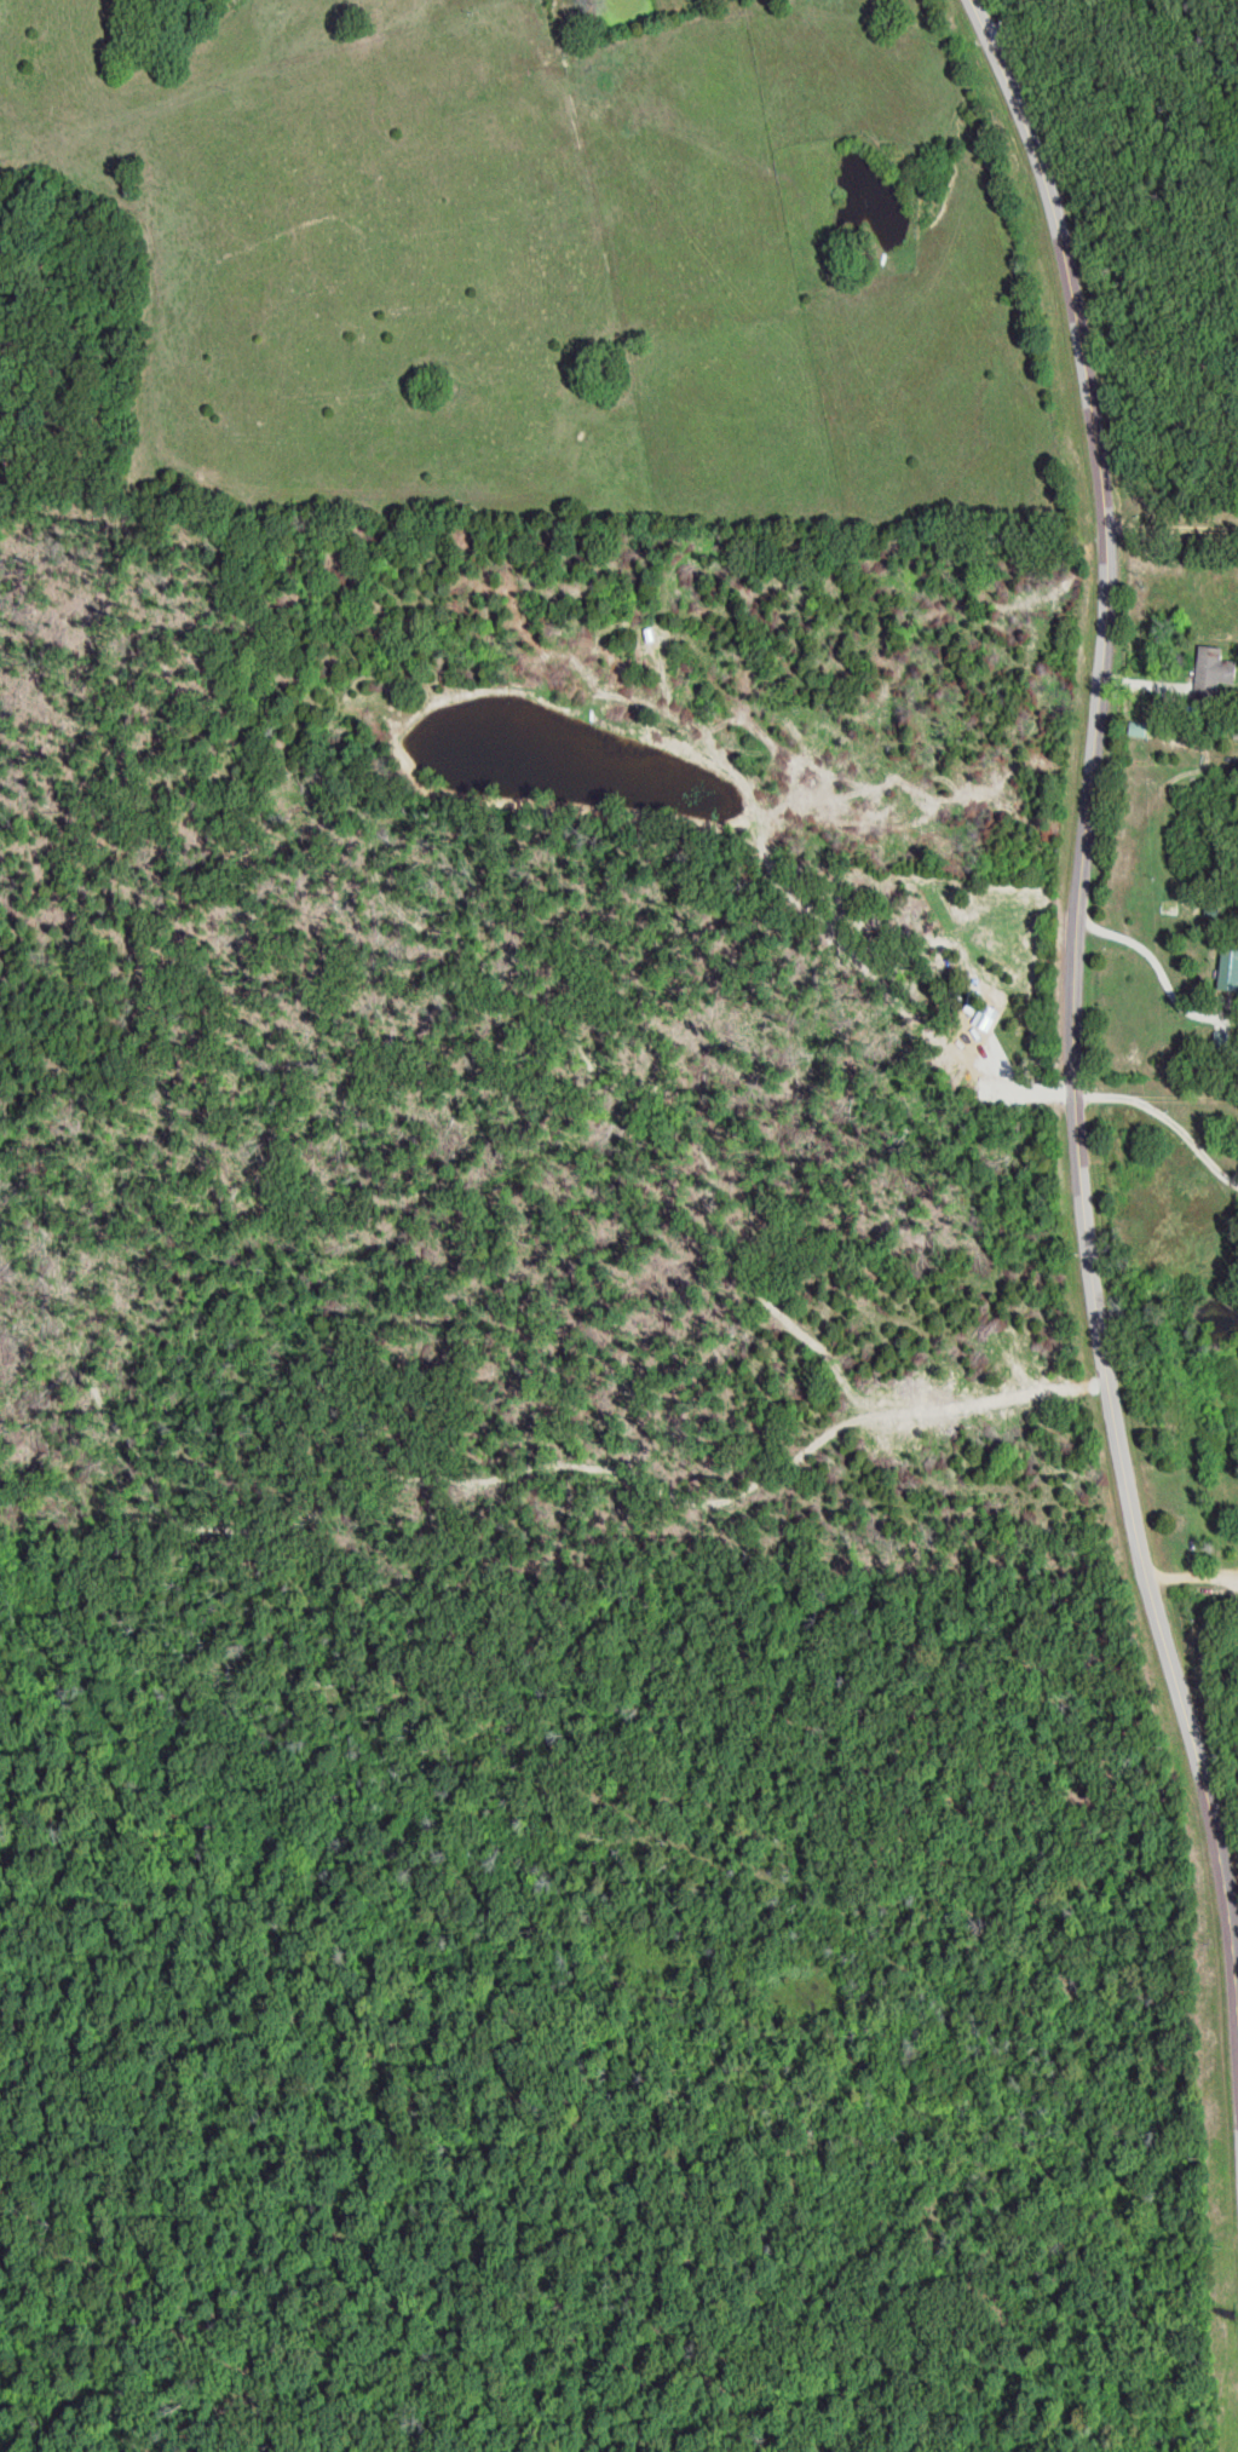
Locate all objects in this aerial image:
road: (1171, 526)
building: (1216, 672)
building: (1233, 967)
road: (1071, 1025)
road: (1190, 1583)
road: (618, 2078)

